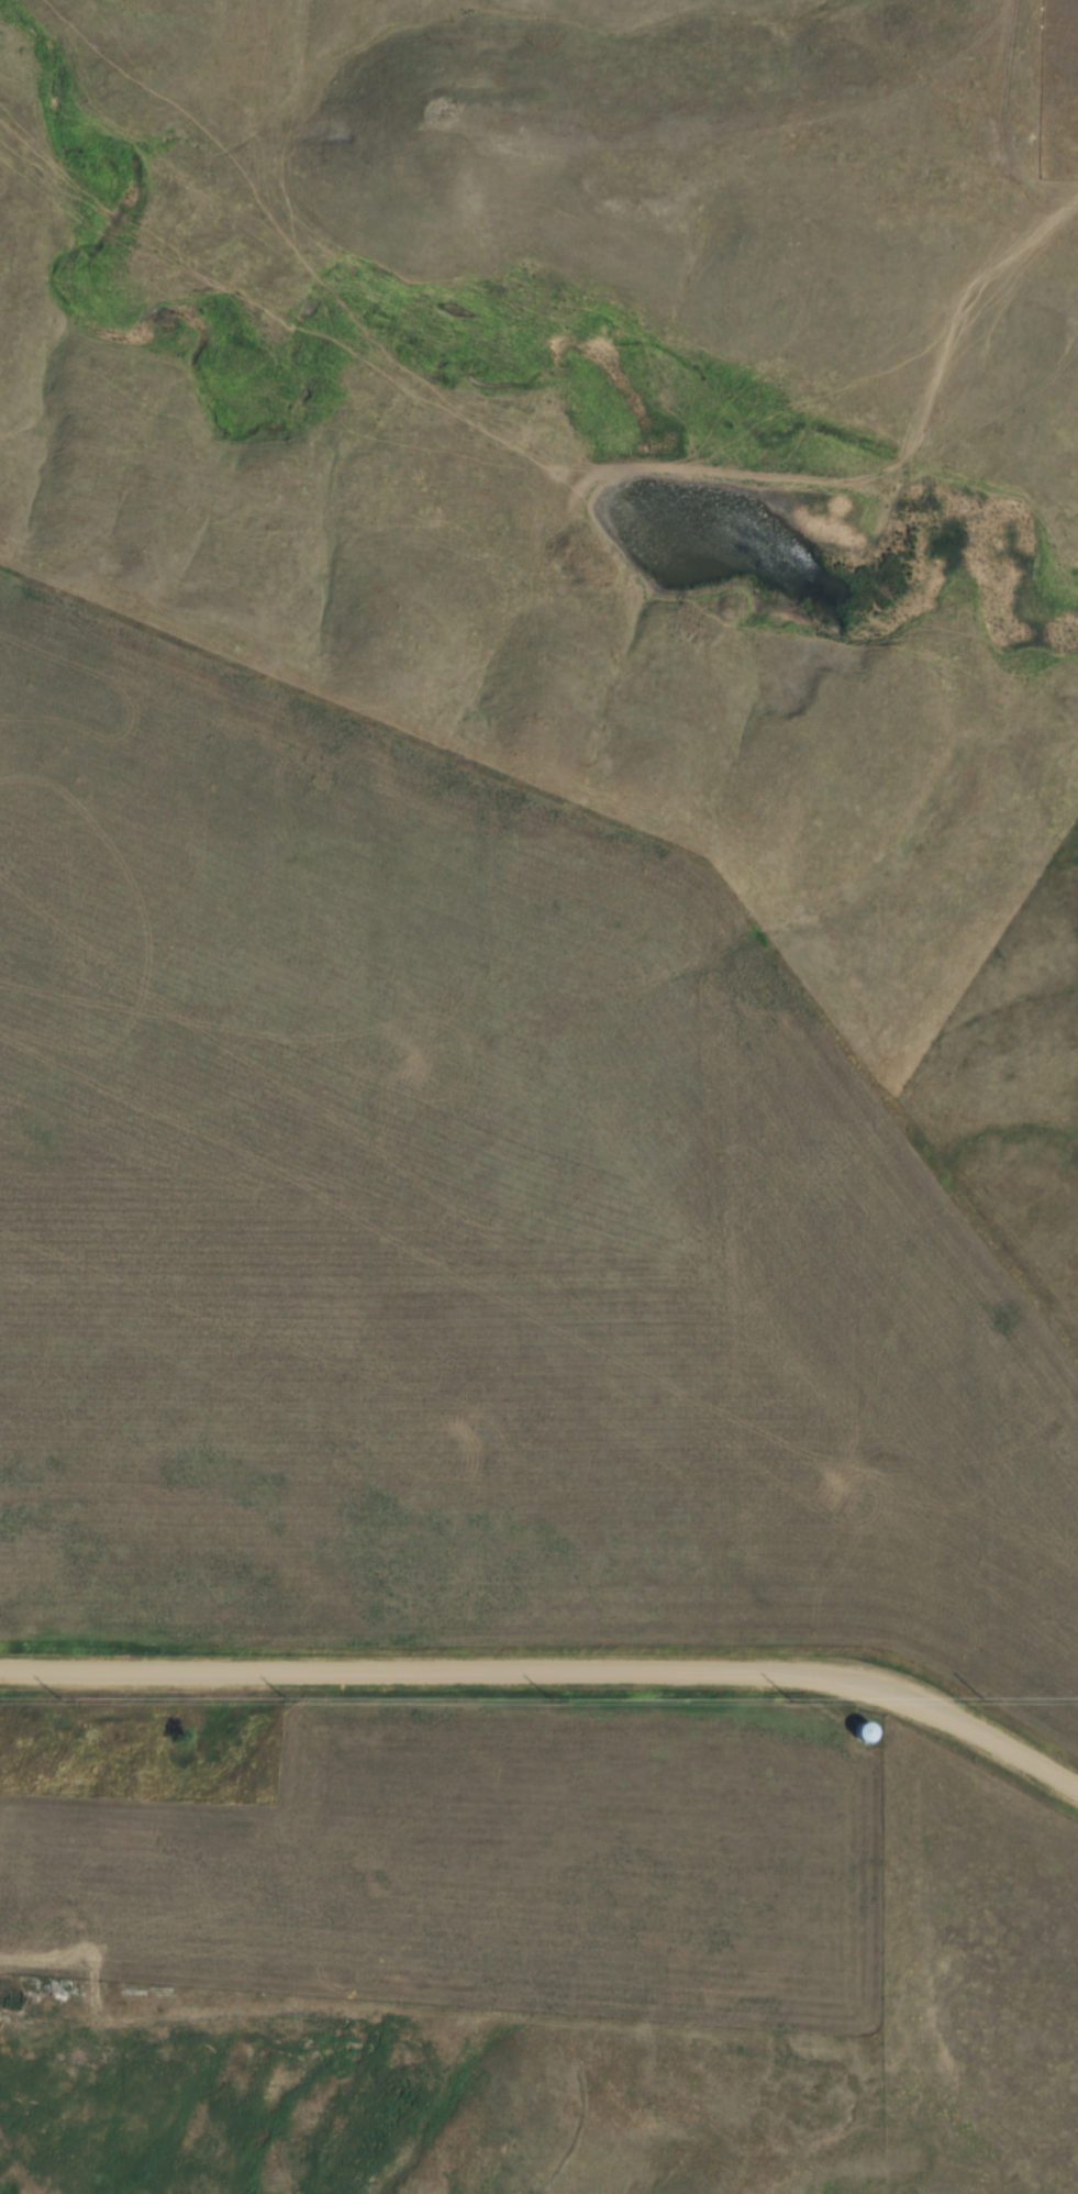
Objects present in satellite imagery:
road: (551, 1673)
building: (870, 1731)

